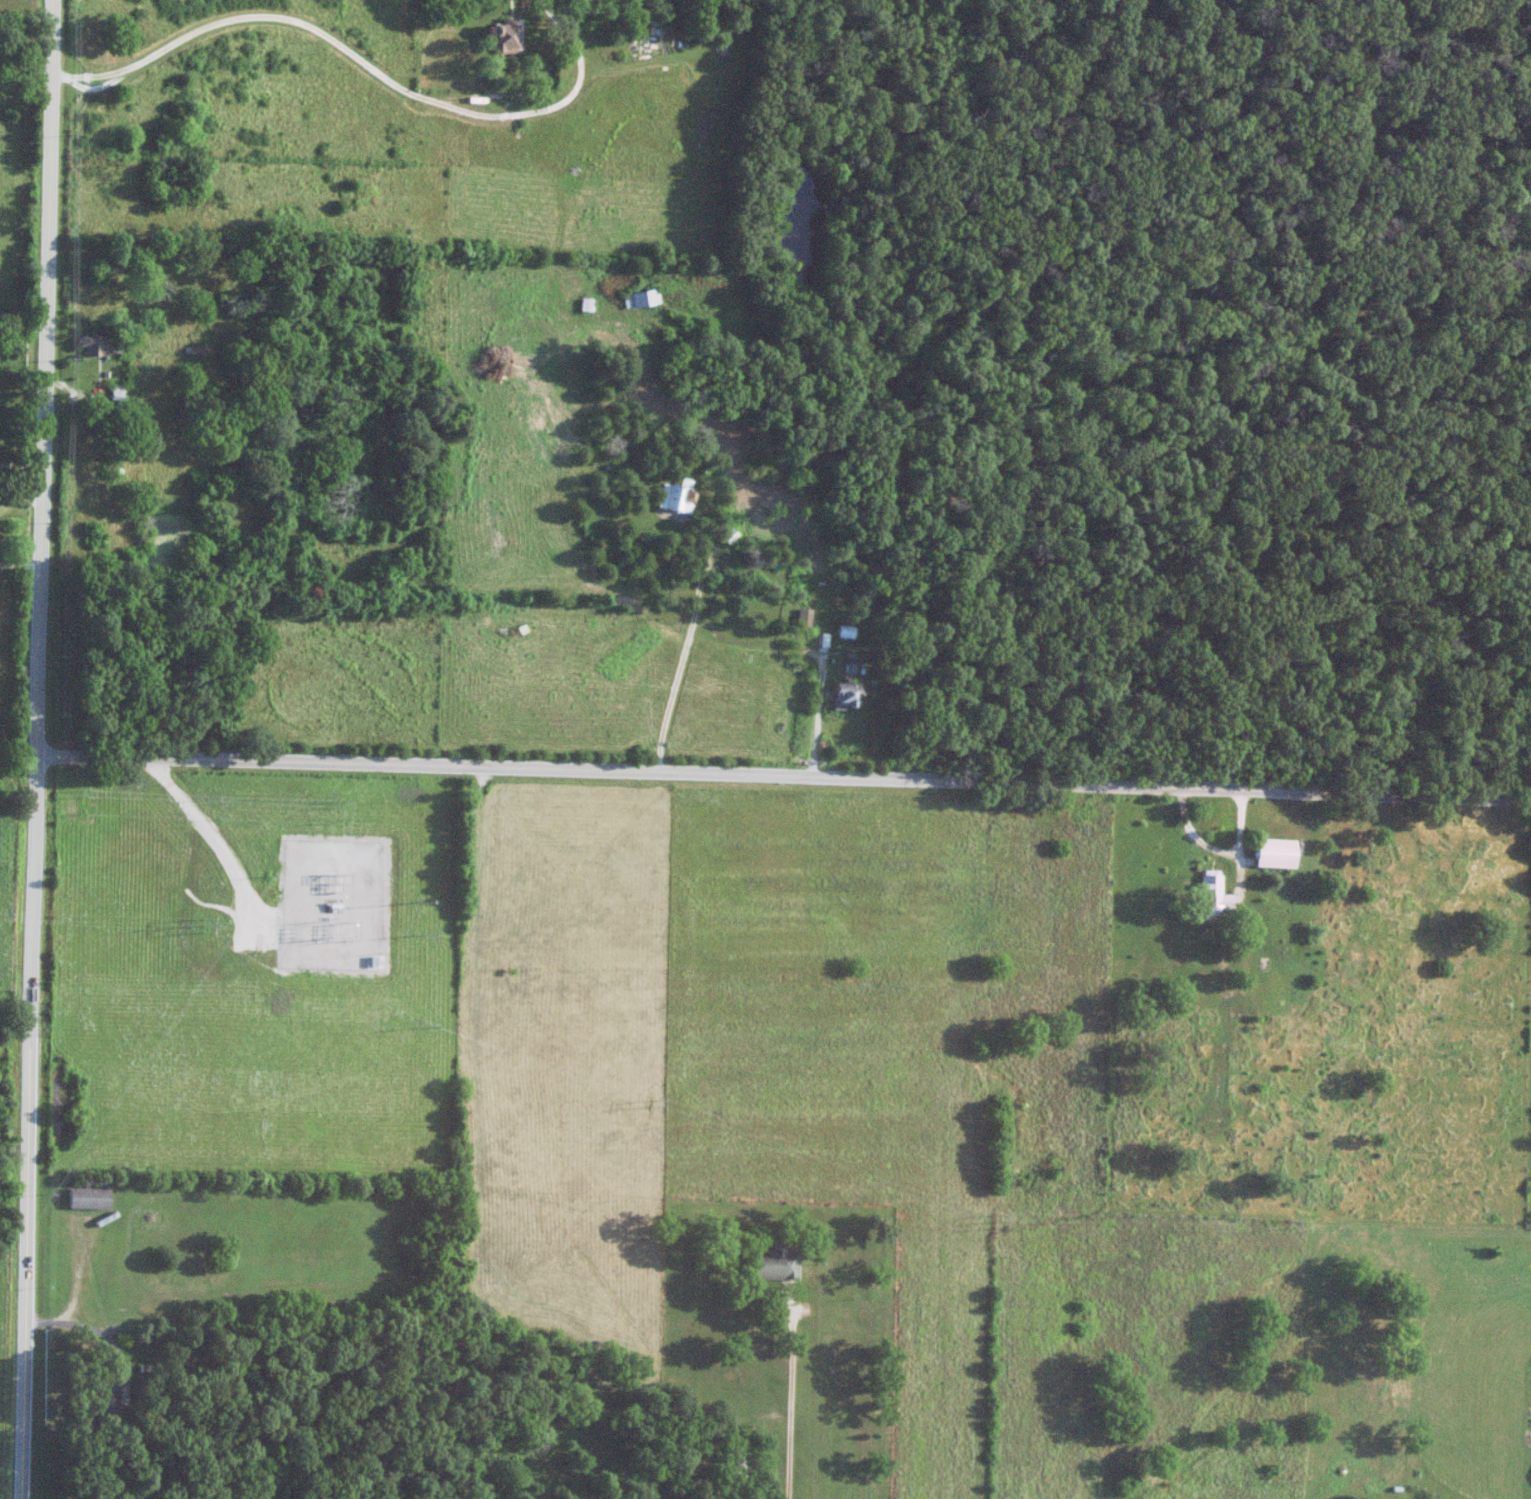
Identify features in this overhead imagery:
road: (365, 59)
building: (642, 299)
building: (90, 346)
road: (25, 464)
building: (112, 468)
building: (676, 496)
building: (803, 618)
building: (910, 627)
building: (844, 632)
road: (678, 662)
building: (842, 694)
road: (45, 749)
road: (788, 770)
road: (1216, 847)
building: (1273, 852)
building: (1212, 895)
power substation: (345, 899)
power tower: (8, 915)
power tower: (210, 925)
power tower: (422, 926)
building: (1242, 1005)
power tower: (427, 1026)
power tower: (649, 1102)
building: (87, 1198)
power tower: (1287, 1216)
power tower: (1000, 1219)
building: (769, 1263)
road: (785, 1393)
building: (110, 1395)
building: (733, 1463)

